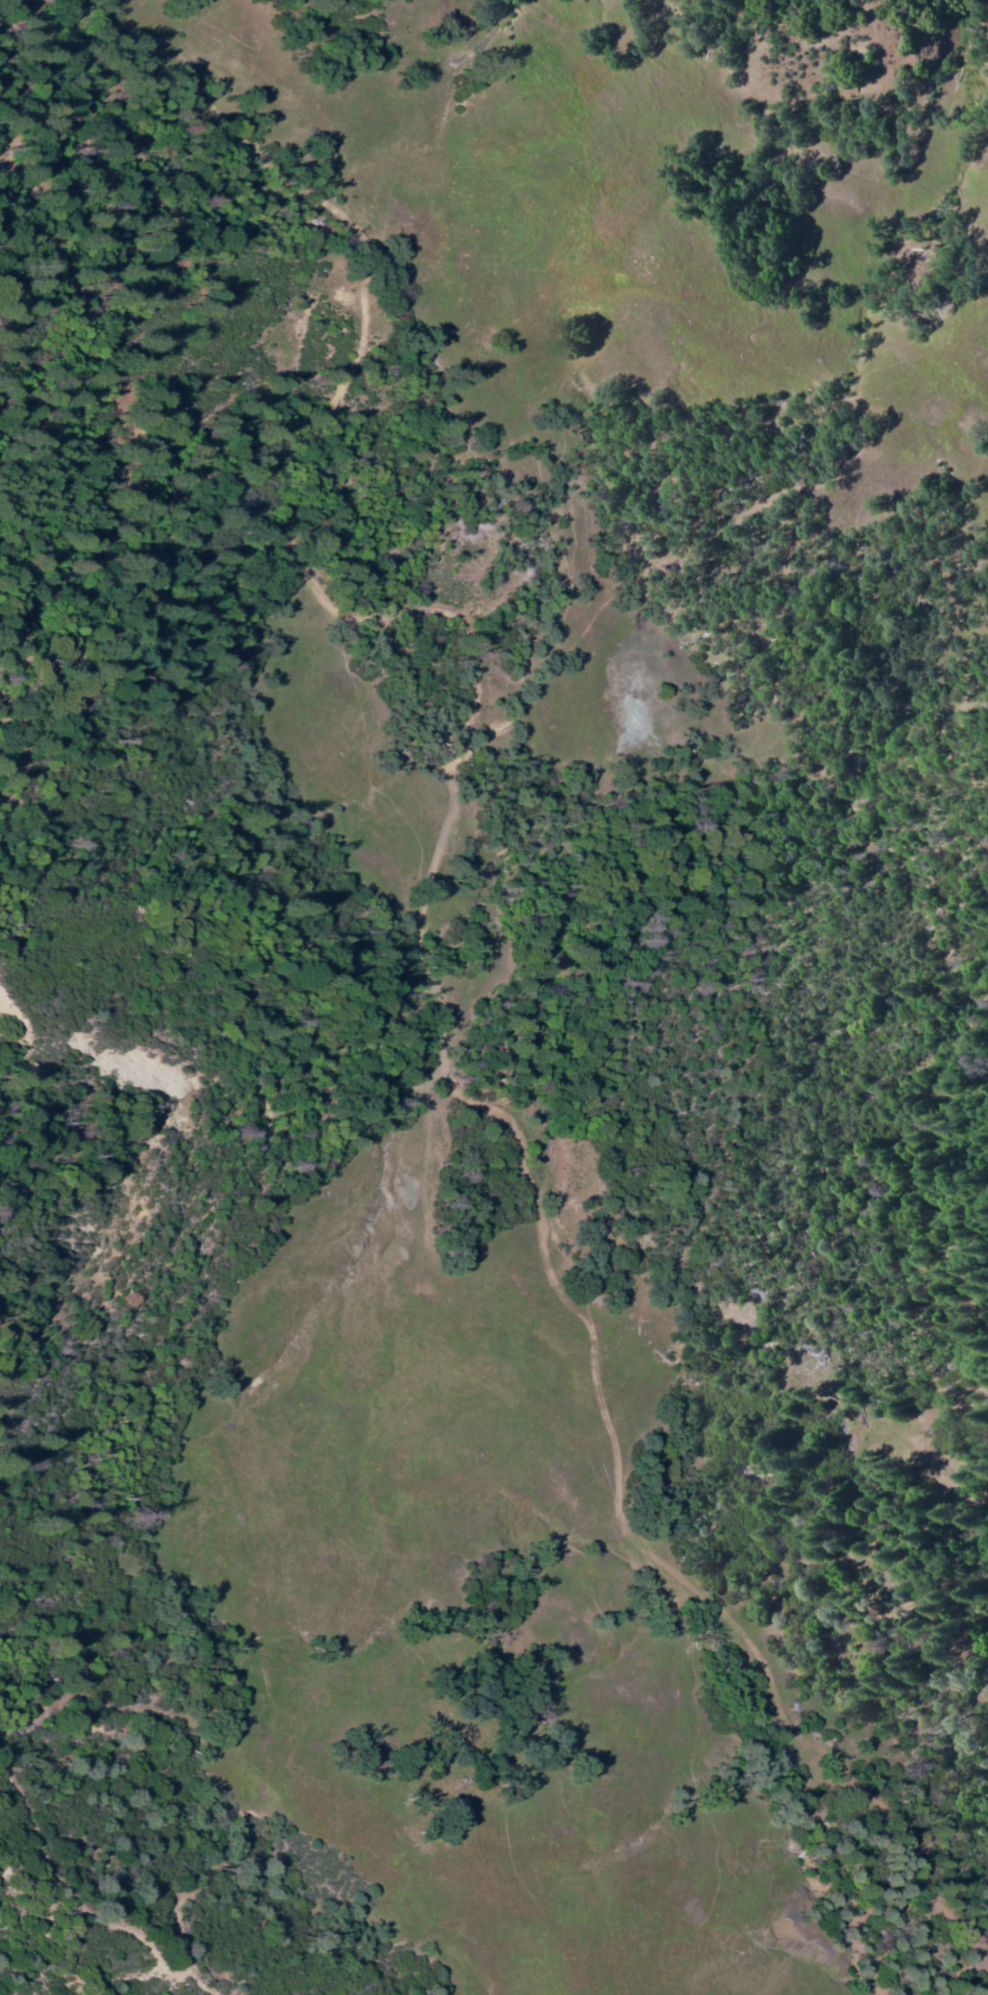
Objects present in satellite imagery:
road: (538, 1496)
road: (73, 1911)

